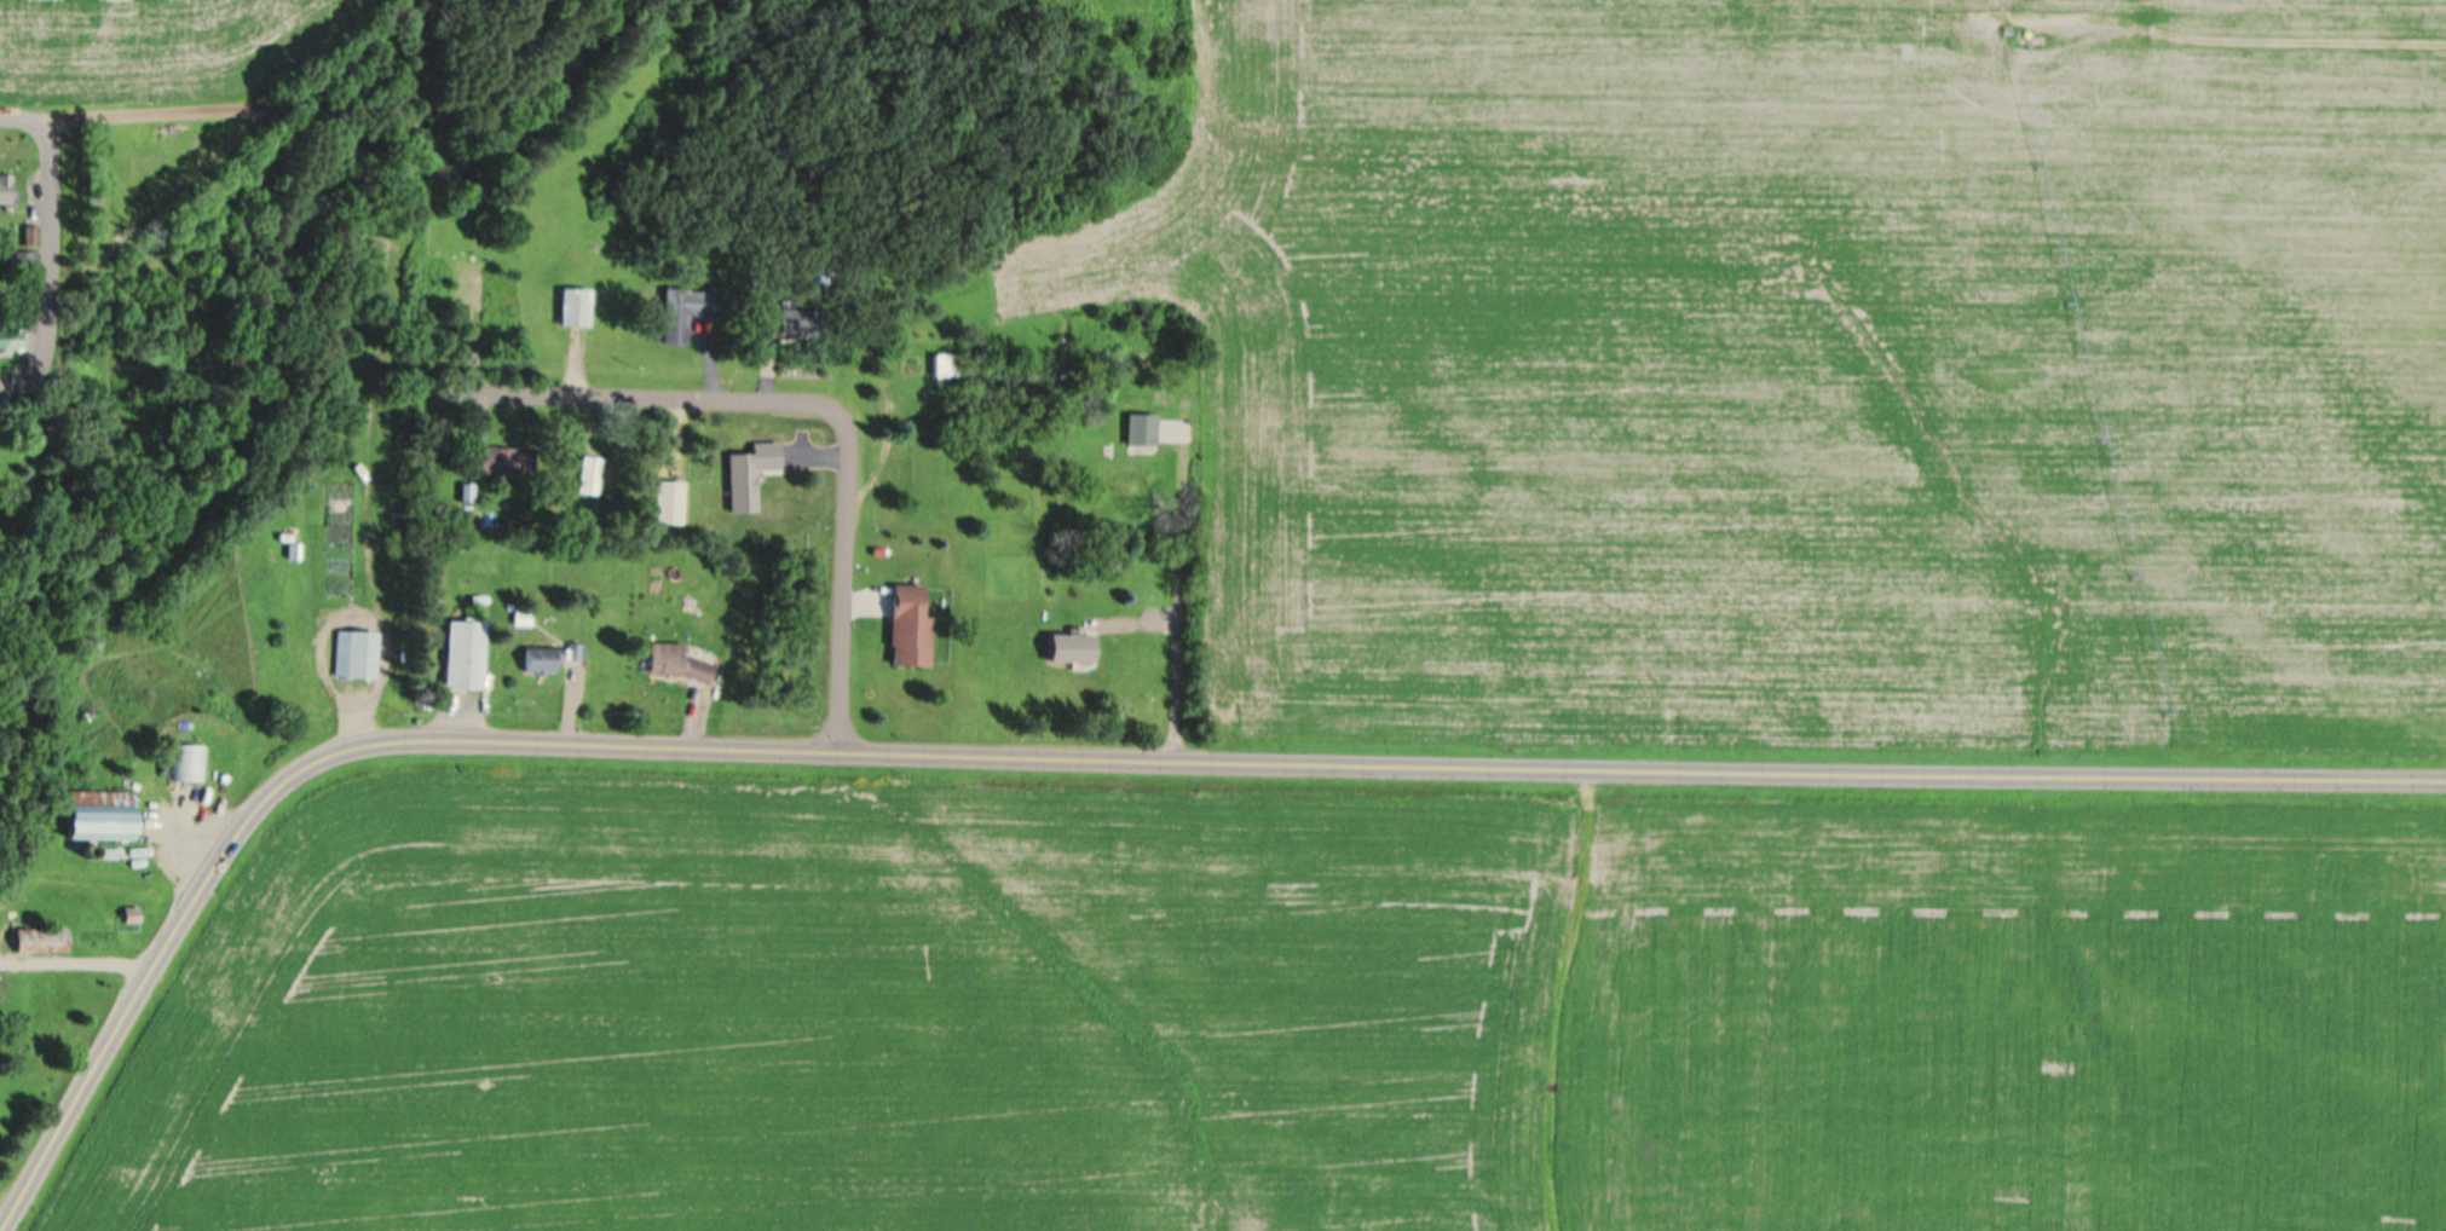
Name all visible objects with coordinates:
road: (243, 106)
road: (24, 121)
building: (5, 191)
building: (30, 236)
road: (48, 260)
building: (29, 261)
building: (573, 305)
building: (683, 314)
building: (8, 331)
building: (944, 362)
road: (10, 387)
road: (638, 393)
building: (1132, 449)
building: (478, 457)
building: (585, 474)
building: (608, 481)
building: (293, 550)
road: (848, 571)
building: (912, 623)
building: (354, 652)
building: (466, 654)
building: (554, 657)
building: (677, 661)
road: (1094, 757)
building: (190, 762)
building: (97, 814)
building: (131, 913)
building: (39, 938)
road: (76, 964)

